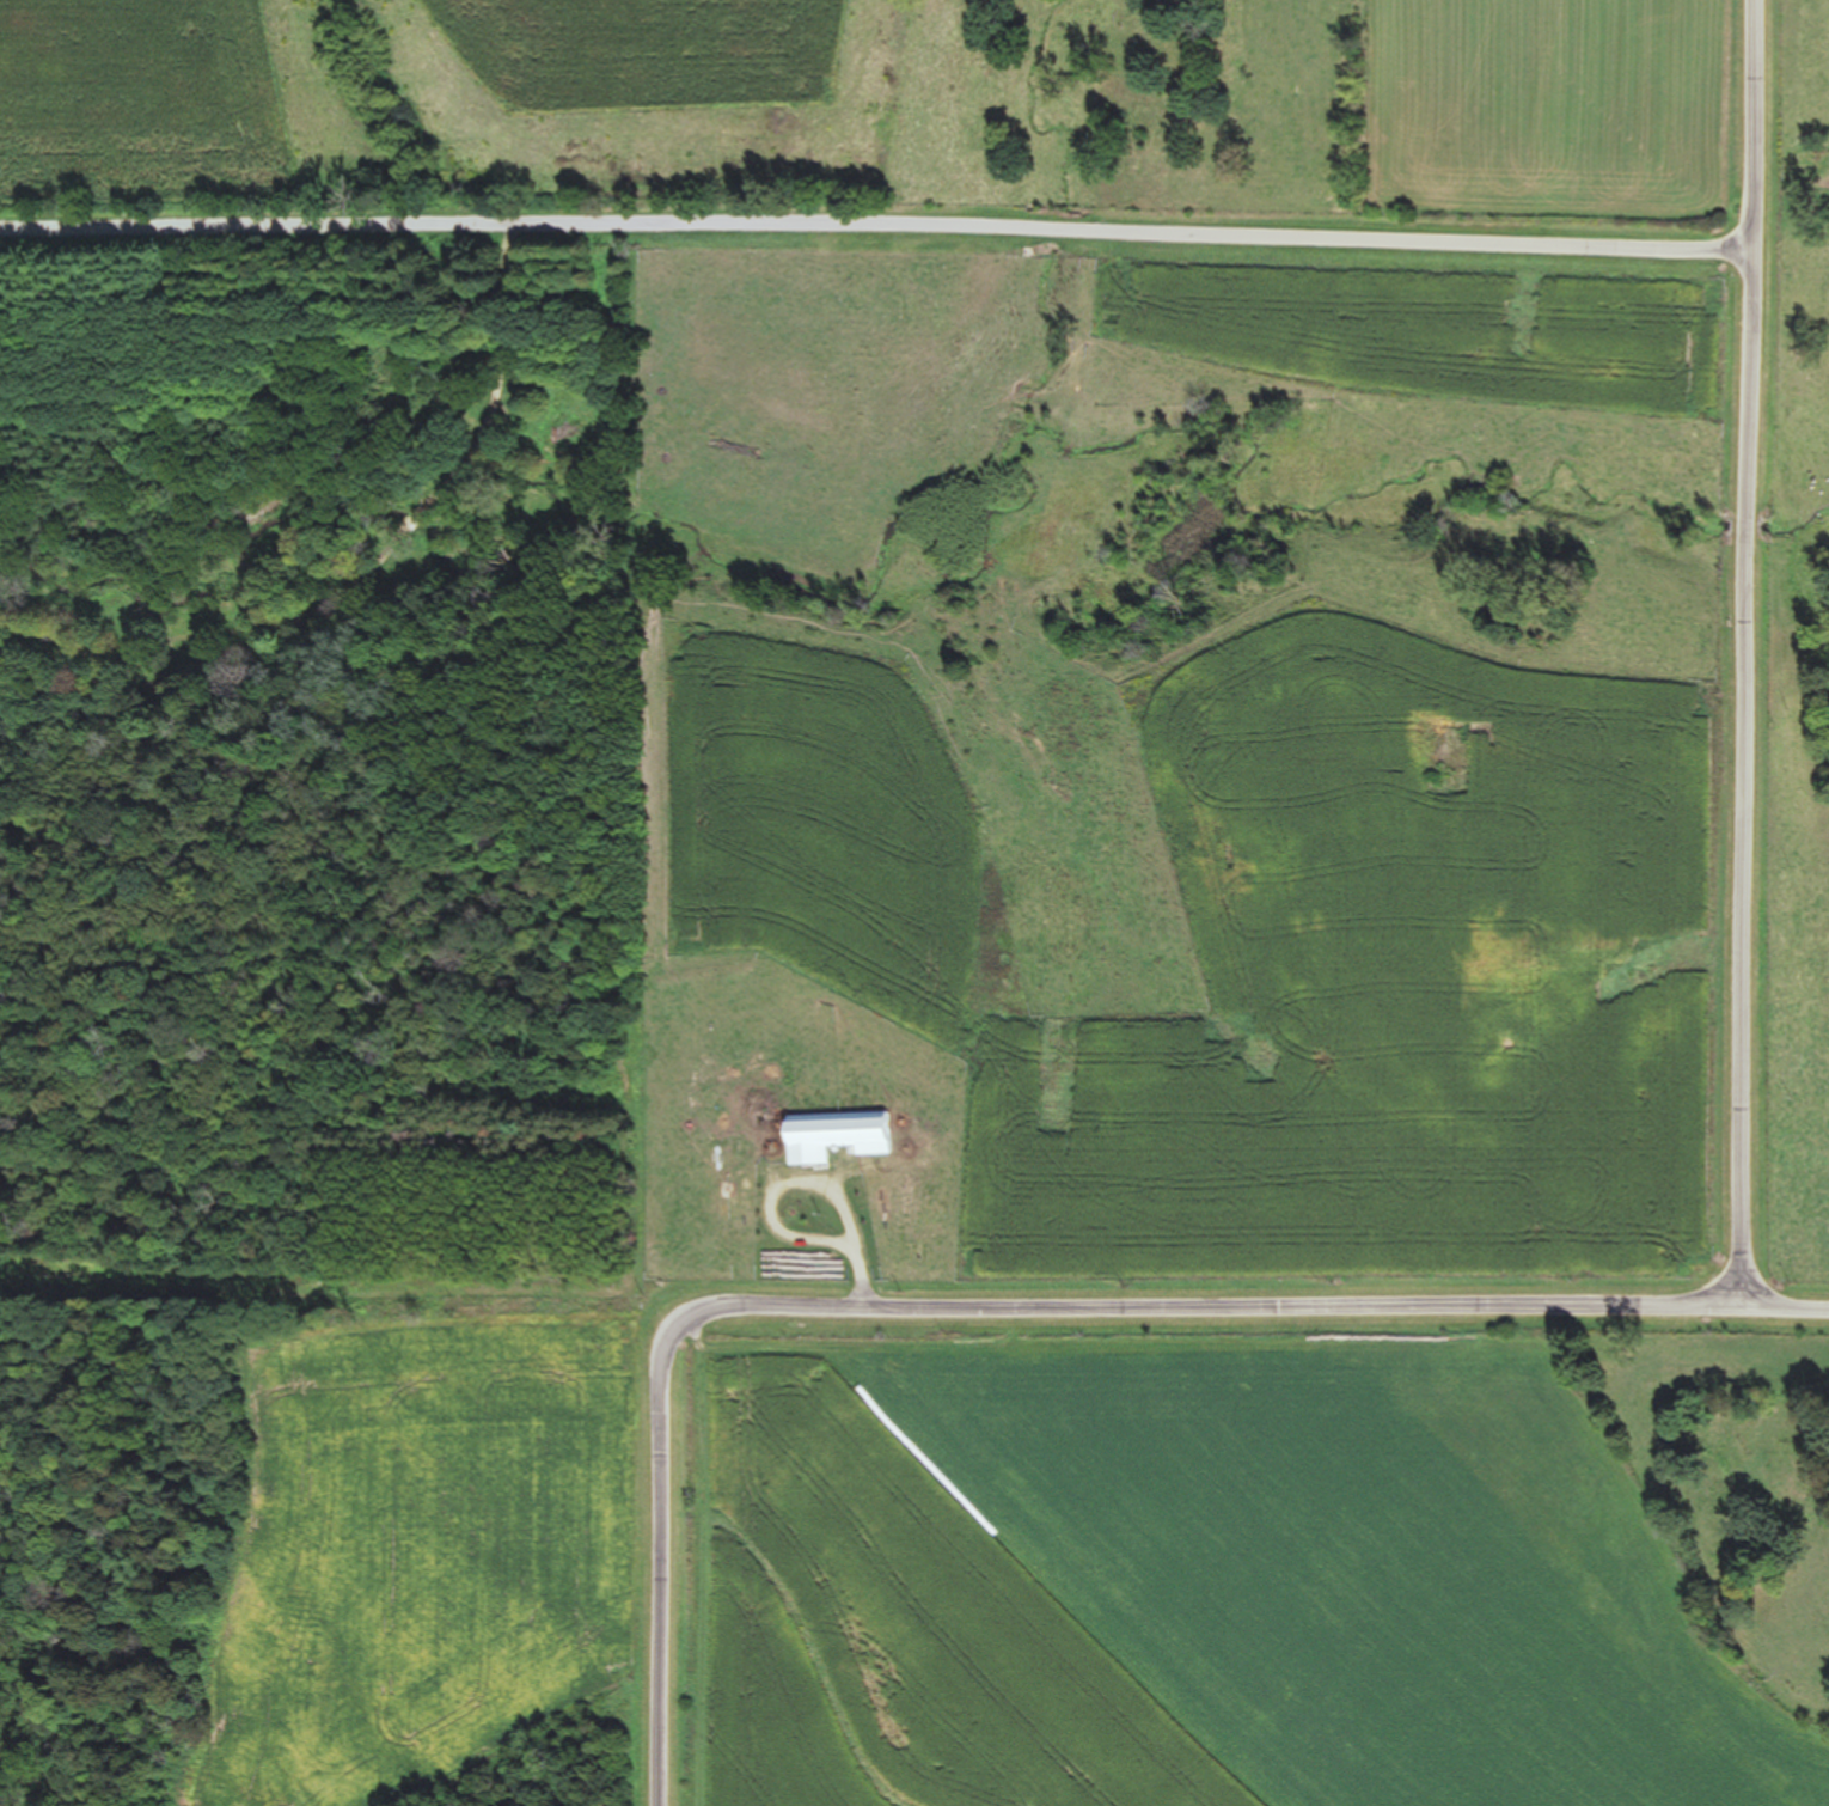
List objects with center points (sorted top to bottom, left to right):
road: (875, 240)
road: (1749, 653)
building: (844, 1136)
building: (727, 1190)
road: (972, 1307)
road: (1787, 1307)

